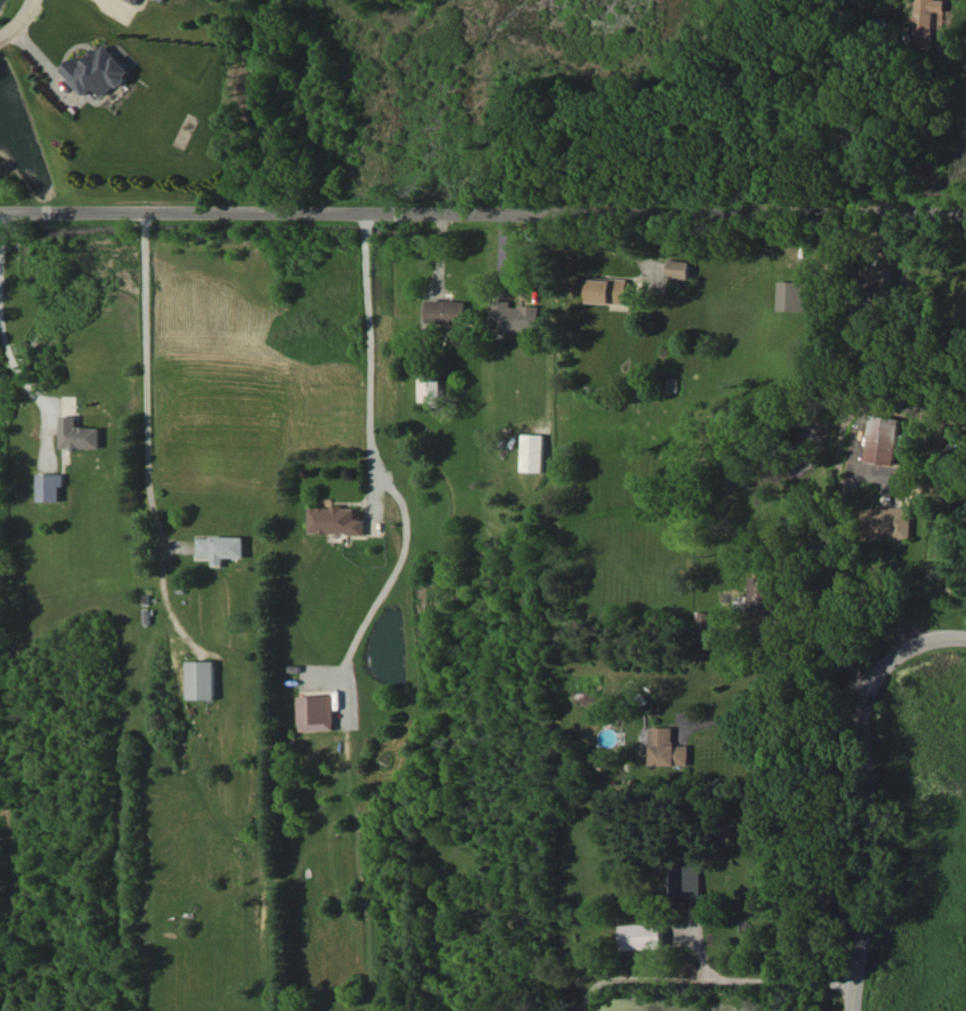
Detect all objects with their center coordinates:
building: (138, 1)
road: (15, 18)
building: (926, 21)
building: (99, 71)
road: (792, 114)
road: (482, 216)
road: (1, 235)
building: (679, 268)
building: (878, 278)
building: (610, 290)
building: (792, 295)
building: (448, 311)
building: (517, 316)
road: (368, 351)
road: (15, 370)
road: (145, 381)
building: (429, 389)
building: (78, 434)
building: (881, 439)
building: (948, 451)
building: (534, 452)
building: (50, 486)
building: (337, 520)
building: (890, 522)
building: (221, 548)
road: (817, 551)
building: (764, 596)
building: (704, 623)
building: (199, 679)
road: (774, 702)
building: (316, 712)
building: (669, 748)
road: (861, 780)
building: (684, 880)
building: (640, 936)
road: (704, 978)

